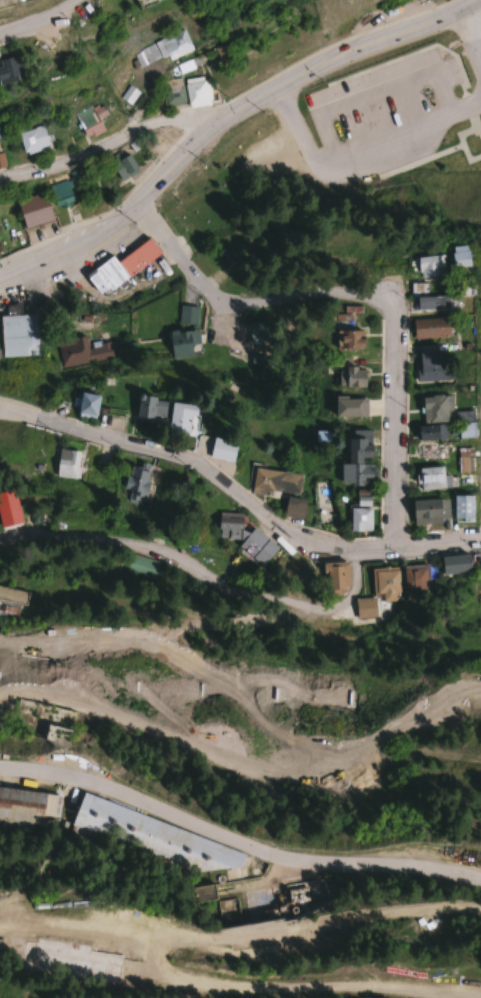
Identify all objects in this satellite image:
building: (145, 0)
road: (35, 19)
road: (472, 40)
building: (161, 49)
building: (188, 65)
building: (10, 69)
building: (196, 92)
building: (172, 93)
building: (128, 95)
parking lot: (384, 112)
building: (90, 120)
road: (225, 122)
building: (31, 139)
road: (113, 140)
road: (362, 149)
building: (1, 161)
building: (123, 167)
building: (60, 194)
building: (33, 210)
building: (459, 257)
building: (429, 267)
building: (121, 268)
road: (364, 297)
building: (426, 300)
building: (188, 314)
building: (429, 328)
building: (19, 335)
building: (348, 340)
building: (179, 344)
building: (81, 352)
building: (432, 367)
building: (350, 378)
building: (86, 405)
building: (350, 407)
building: (150, 408)
building: (435, 409)
building: (181, 419)
building: (466, 430)
building: (430, 433)
building: (222, 450)
building: (430, 452)
building: (357, 460)
building: (464, 461)
building: (67, 464)
building: (431, 479)
building: (135, 484)
building: (280, 489)
road: (239, 492)
building: (462, 509)
building: (429, 511)
building: (360, 519)
building: (244, 537)
building: (455, 565)
building: (142, 566)
building: (335, 576)
building: (416, 578)
building: (13, 596)
building: (377, 597)
building: (58, 726)
road: (243, 760)
building: (26, 808)
building: (157, 838)
road: (237, 838)
building: (201, 893)
building: (285, 899)
road: (238, 938)
building: (70, 961)
road: (300, 983)

